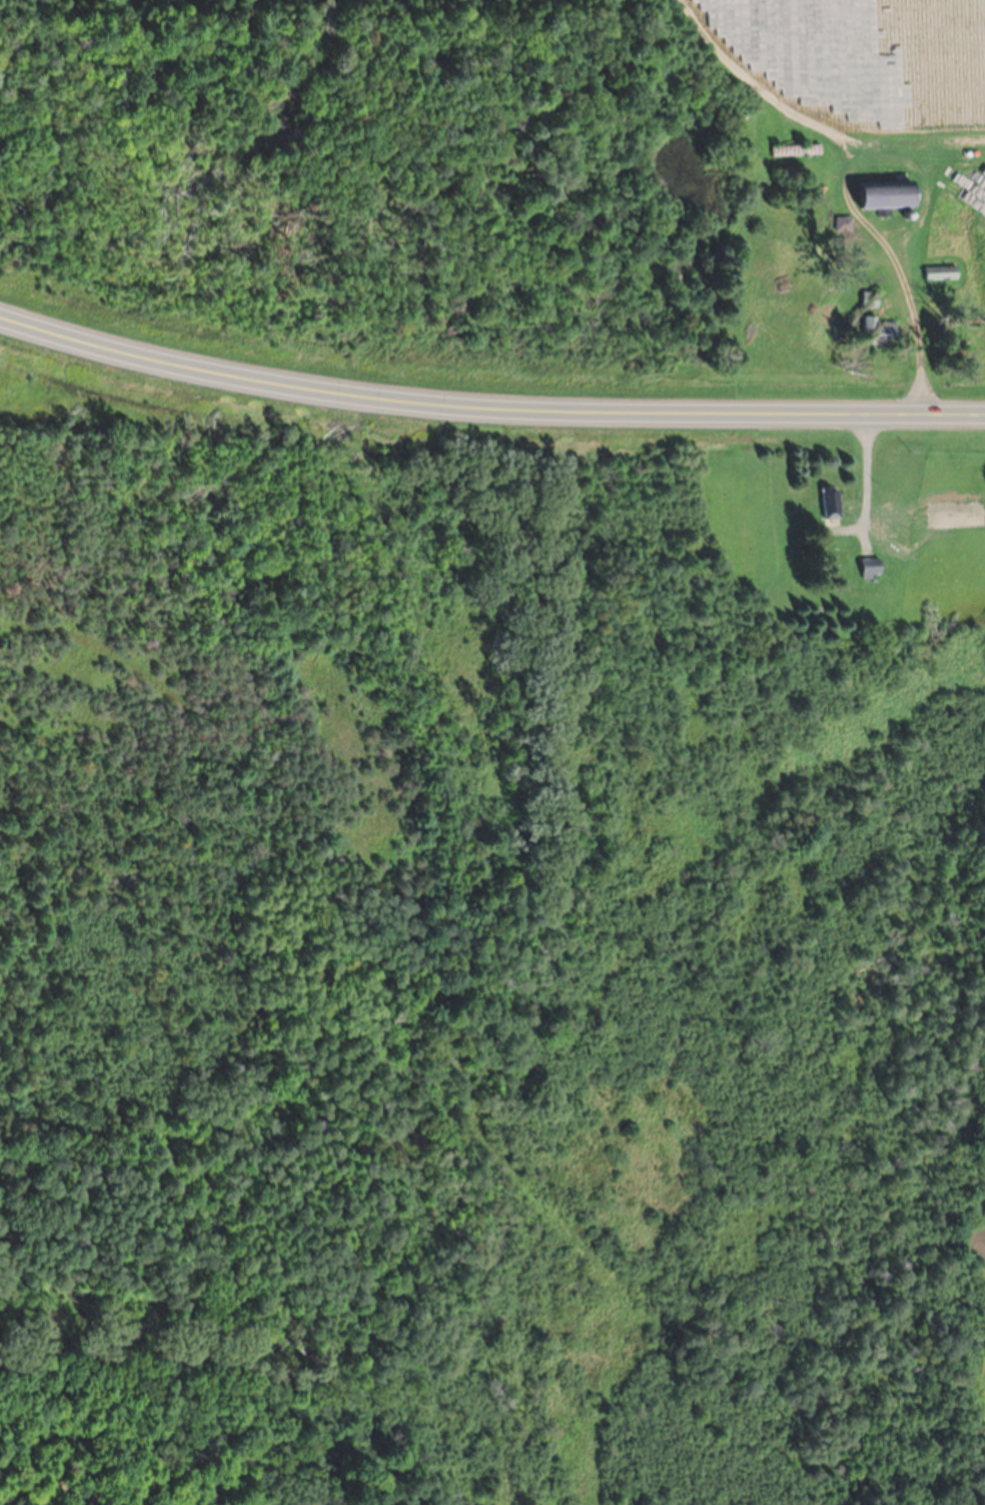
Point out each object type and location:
building: (942, 272)
building: (881, 331)
road: (487, 408)
building: (832, 503)
building: (873, 568)
airport: (268, 688)

